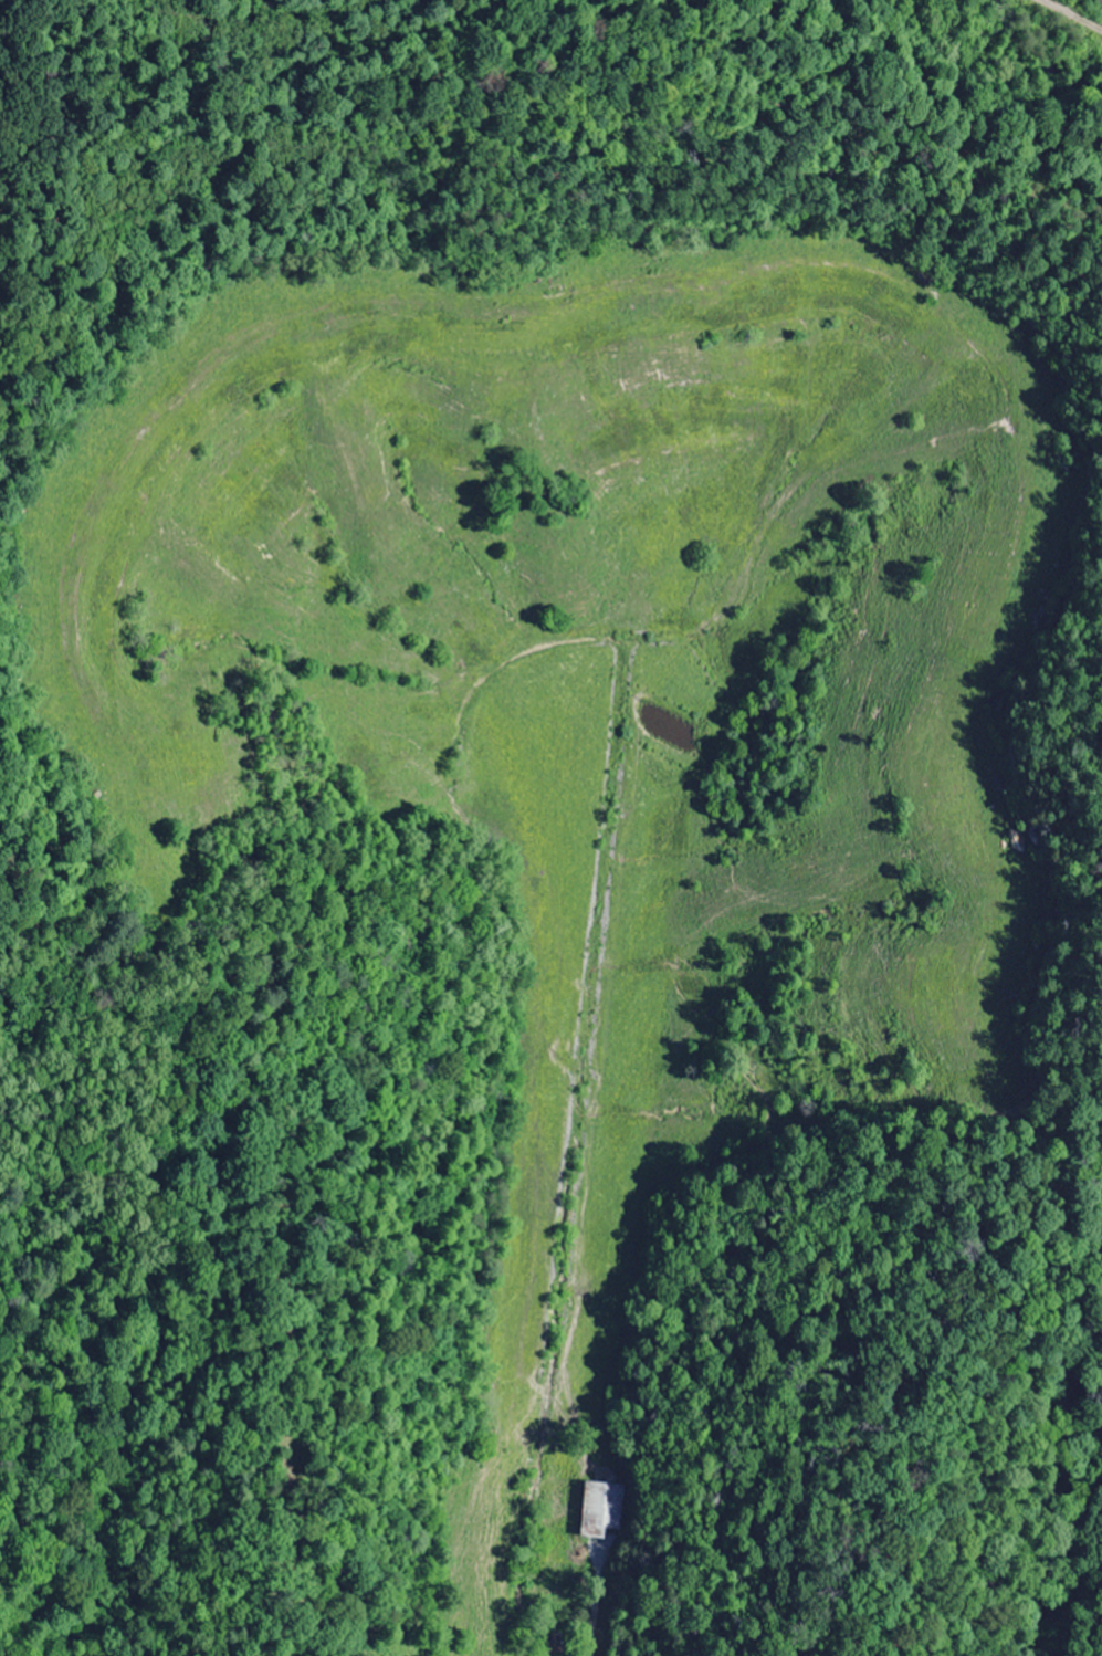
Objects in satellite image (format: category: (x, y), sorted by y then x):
building: (600, 1503)
building: (552, 1643)

